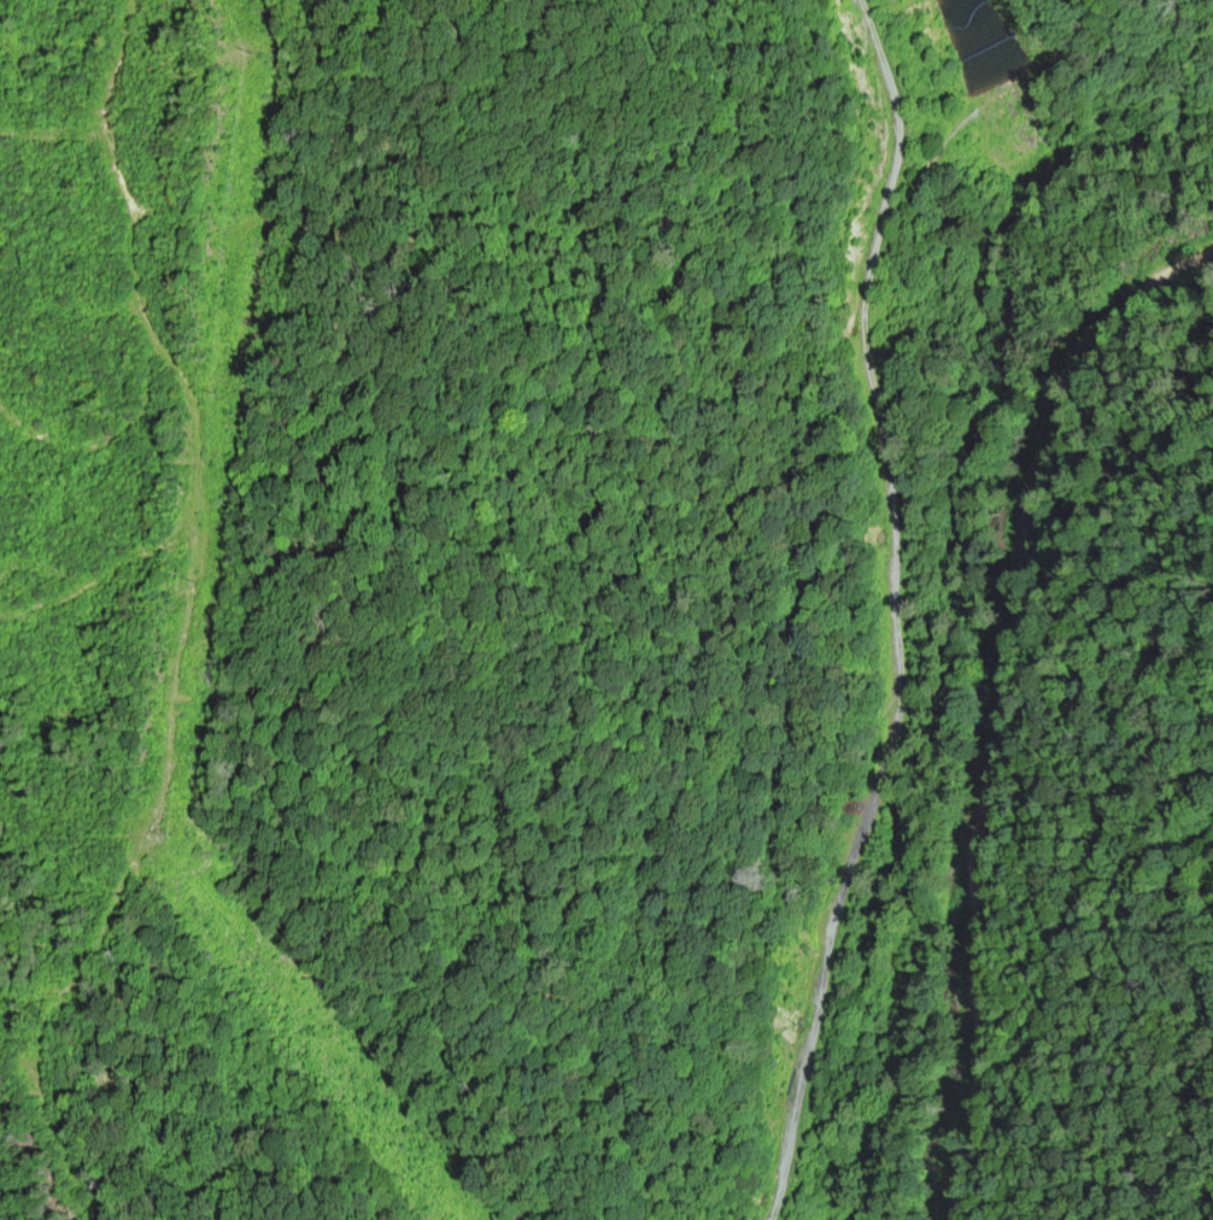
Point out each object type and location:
road: (895, 609)
road: (989, 684)

